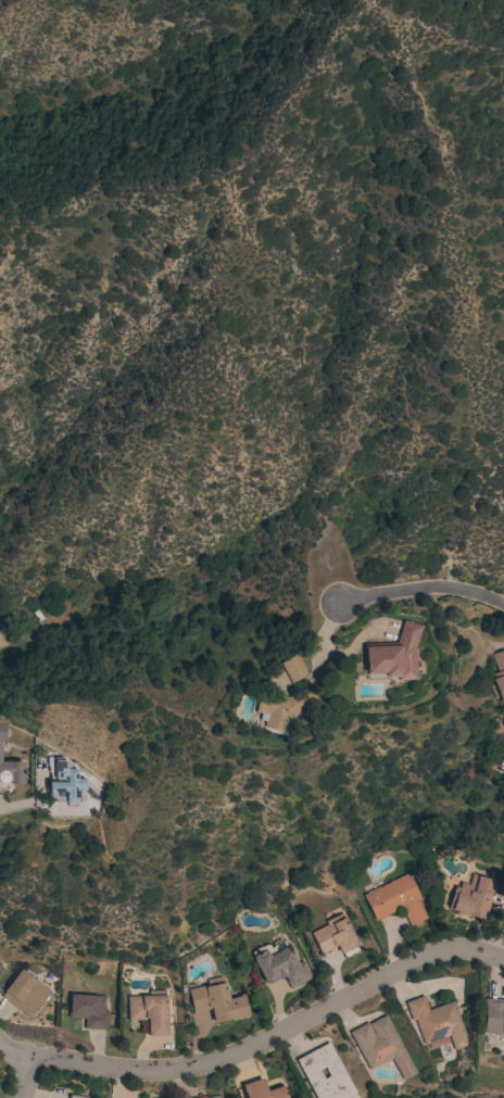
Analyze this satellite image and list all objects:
road: (420, 589)
building: (58, 590)
building: (393, 655)
building: (293, 668)
building: (499, 674)
building: (281, 708)
building: (2, 734)
building: (503, 744)
building: (501, 762)
building: (12, 772)
building: (63, 782)
road: (15, 807)
building: (470, 897)
building: (395, 900)
building: (335, 937)
road: (502, 950)
building: (279, 964)
building: (24, 994)
building: (216, 1000)
building: (88, 1010)
building: (149, 1011)
building: (493, 1019)
building: (436, 1022)
road: (275, 1037)
building: (380, 1046)
road: (15, 1050)
building: (310, 1073)
road: (25, 1078)
building: (261, 1090)
building: (74, 1097)
building: (201, 1097)

